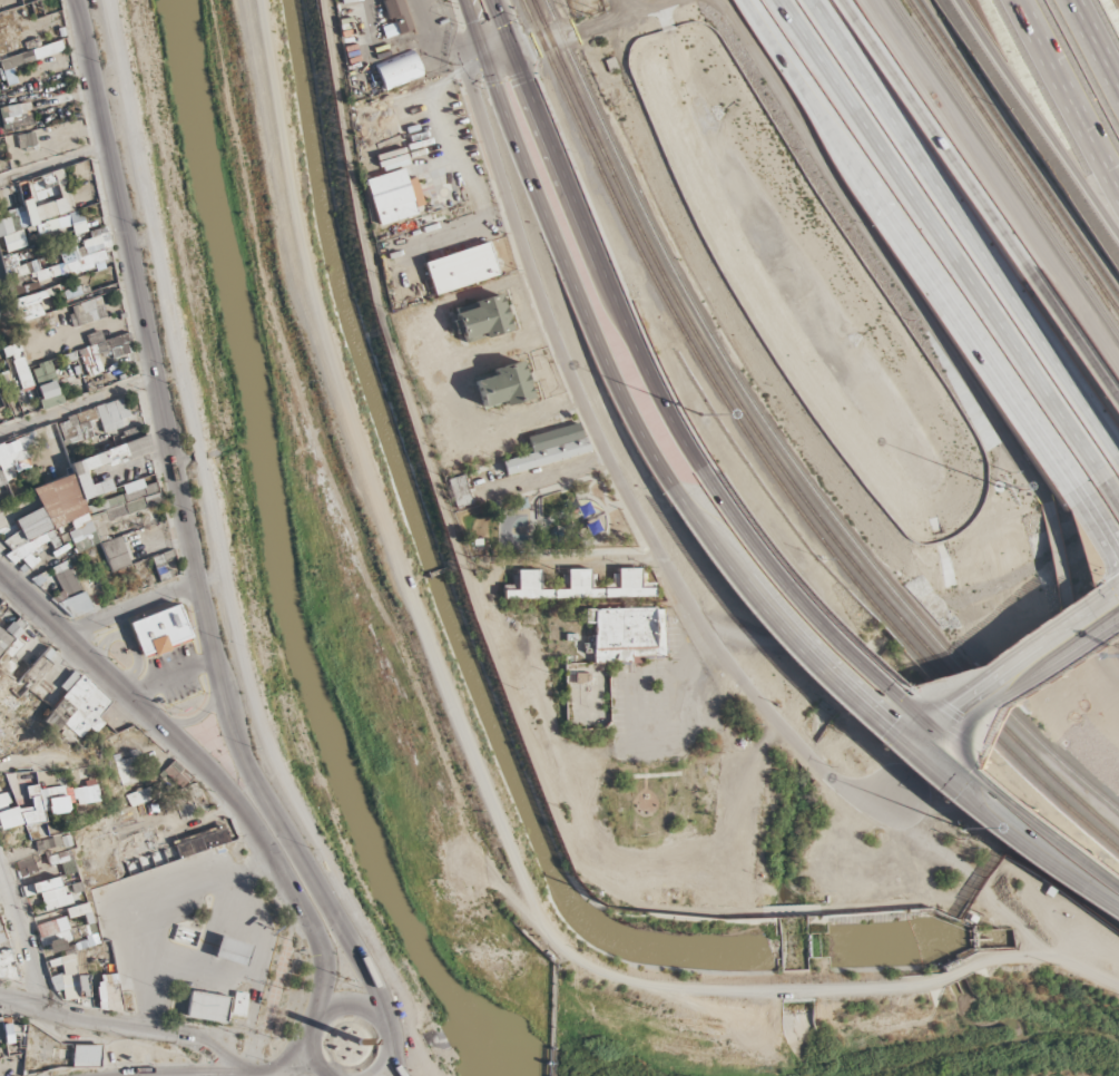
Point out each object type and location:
building: (396, 17)
road: (776, 27)
road: (579, 30)
road: (874, 38)
railway: (552, 41)
road: (851, 45)
road: (1095, 46)
traffic signals: (512, 51)
traffic signals: (483, 60)
building: (397, 69)
road: (519, 75)
road: (504, 81)
road: (492, 82)
road: (481, 86)
road: (469, 89)
road: (1067, 91)
building: (714, 100)
road: (1037, 120)
railway: (1021, 145)
railway: (1014, 156)
road: (51, 158)
railway: (1004, 168)
building: (393, 196)
road: (454, 228)
road: (1010, 236)
road: (590, 243)
road: (953, 243)
road: (559, 253)
road: (526, 260)
road: (1000, 263)
building: (460, 268)
road: (618, 274)
road: (955, 300)
building: (482, 316)
road: (156, 381)
building: (502, 387)
road: (78, 408)
railway: (777, 444)
building: (549, 448)
railway: (767, 462)
road: (548, 479)
building: (459, 490)
railway: (799, 491)
park: (557, 521)
road: (212, 554)
road: (217, 555)
river: (285, 563)
building: (578, 584)
road: (809, 599)
road: (131, 605)
building: (158, 633)
building: (629, 636)
road: (724, 658)
road: (1001, 661)
building: (578, 675)
road: (171, 677)
parking lot: (174, 681)
road: (1039, 692)
road: (1011, 694)
road: (893, 703)
road: (200, 718)
traffic signals: (913, 721)
road: (952, 722)
road: (874, 731)
traffic signals: (939, 744)
traffic signals: (896, 751)
road: (28, 754)
road: (224, 792)
road: (997, 901)
road: (326, 904)
road: (155, 908)
gas station: (188, 937)
dam: (972, 939)
road: (18, 941)
road: (245, 970)
dam: (551, 1020)
road: (125, 1027)
river: (980, 1045)
road: (294, 1048)
road: (394, 1065)
road: (383, 1066)
road: (244, 1075)

